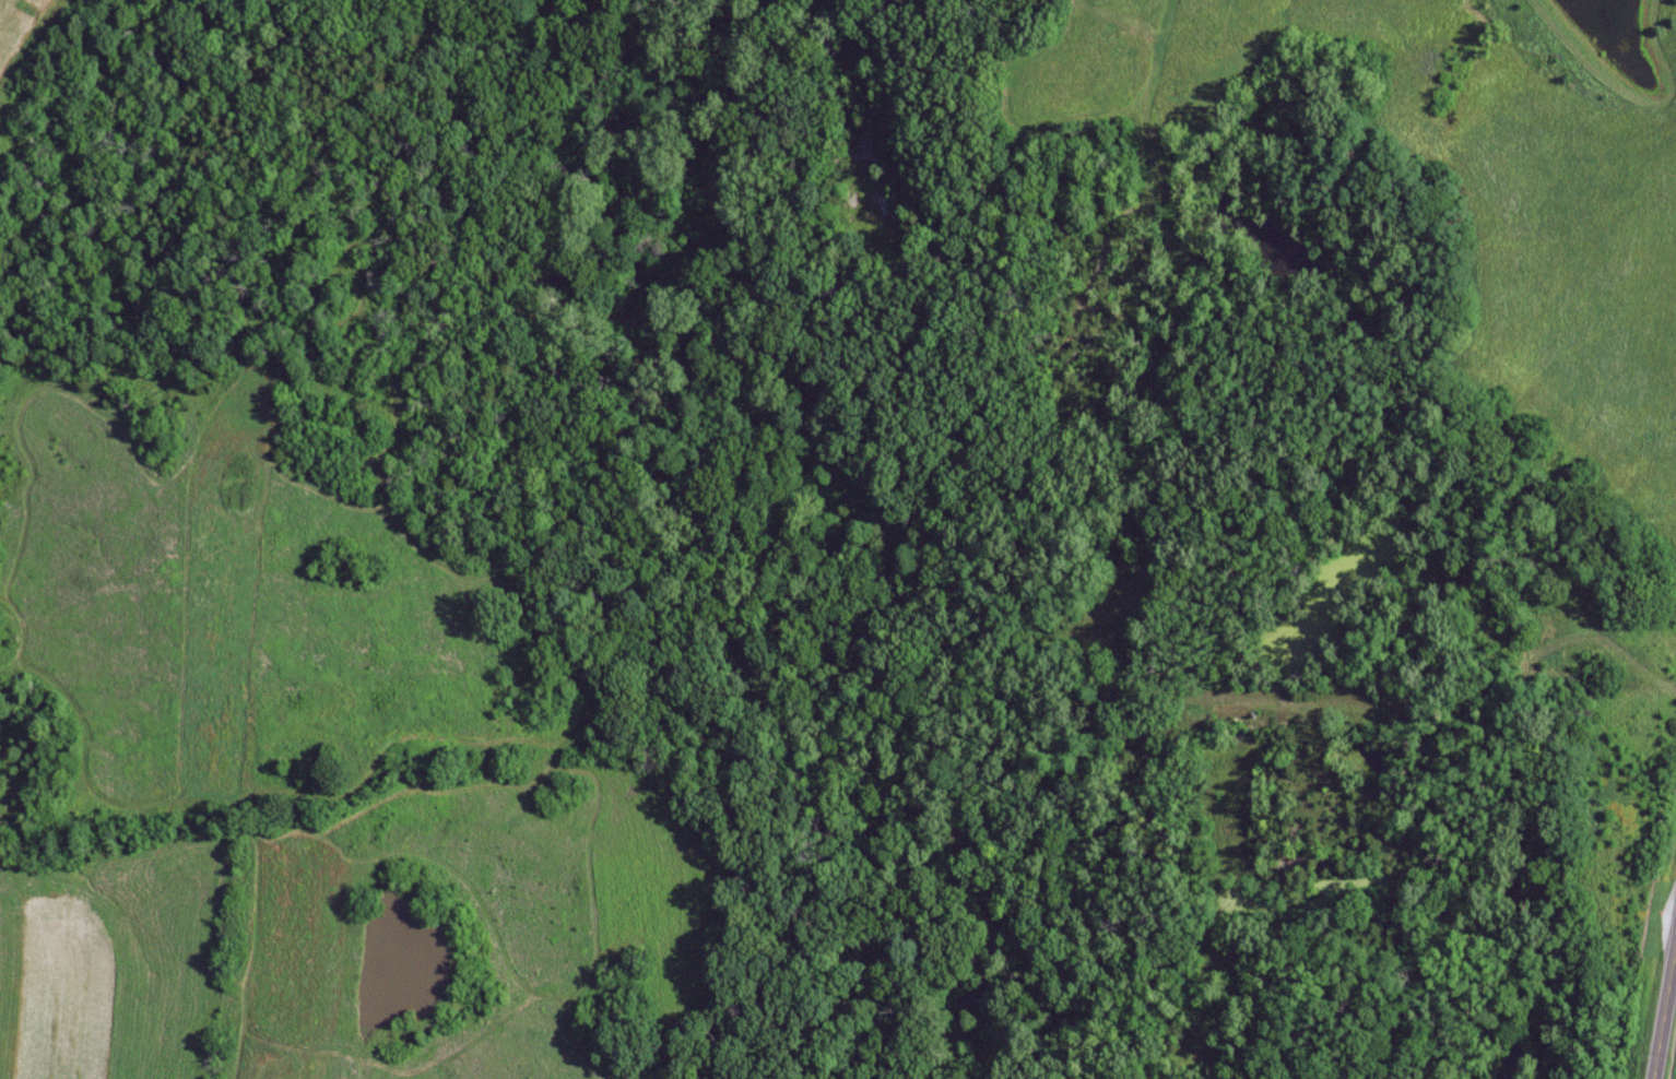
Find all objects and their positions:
road: (1491, 698)
road: (1663, 1001)

